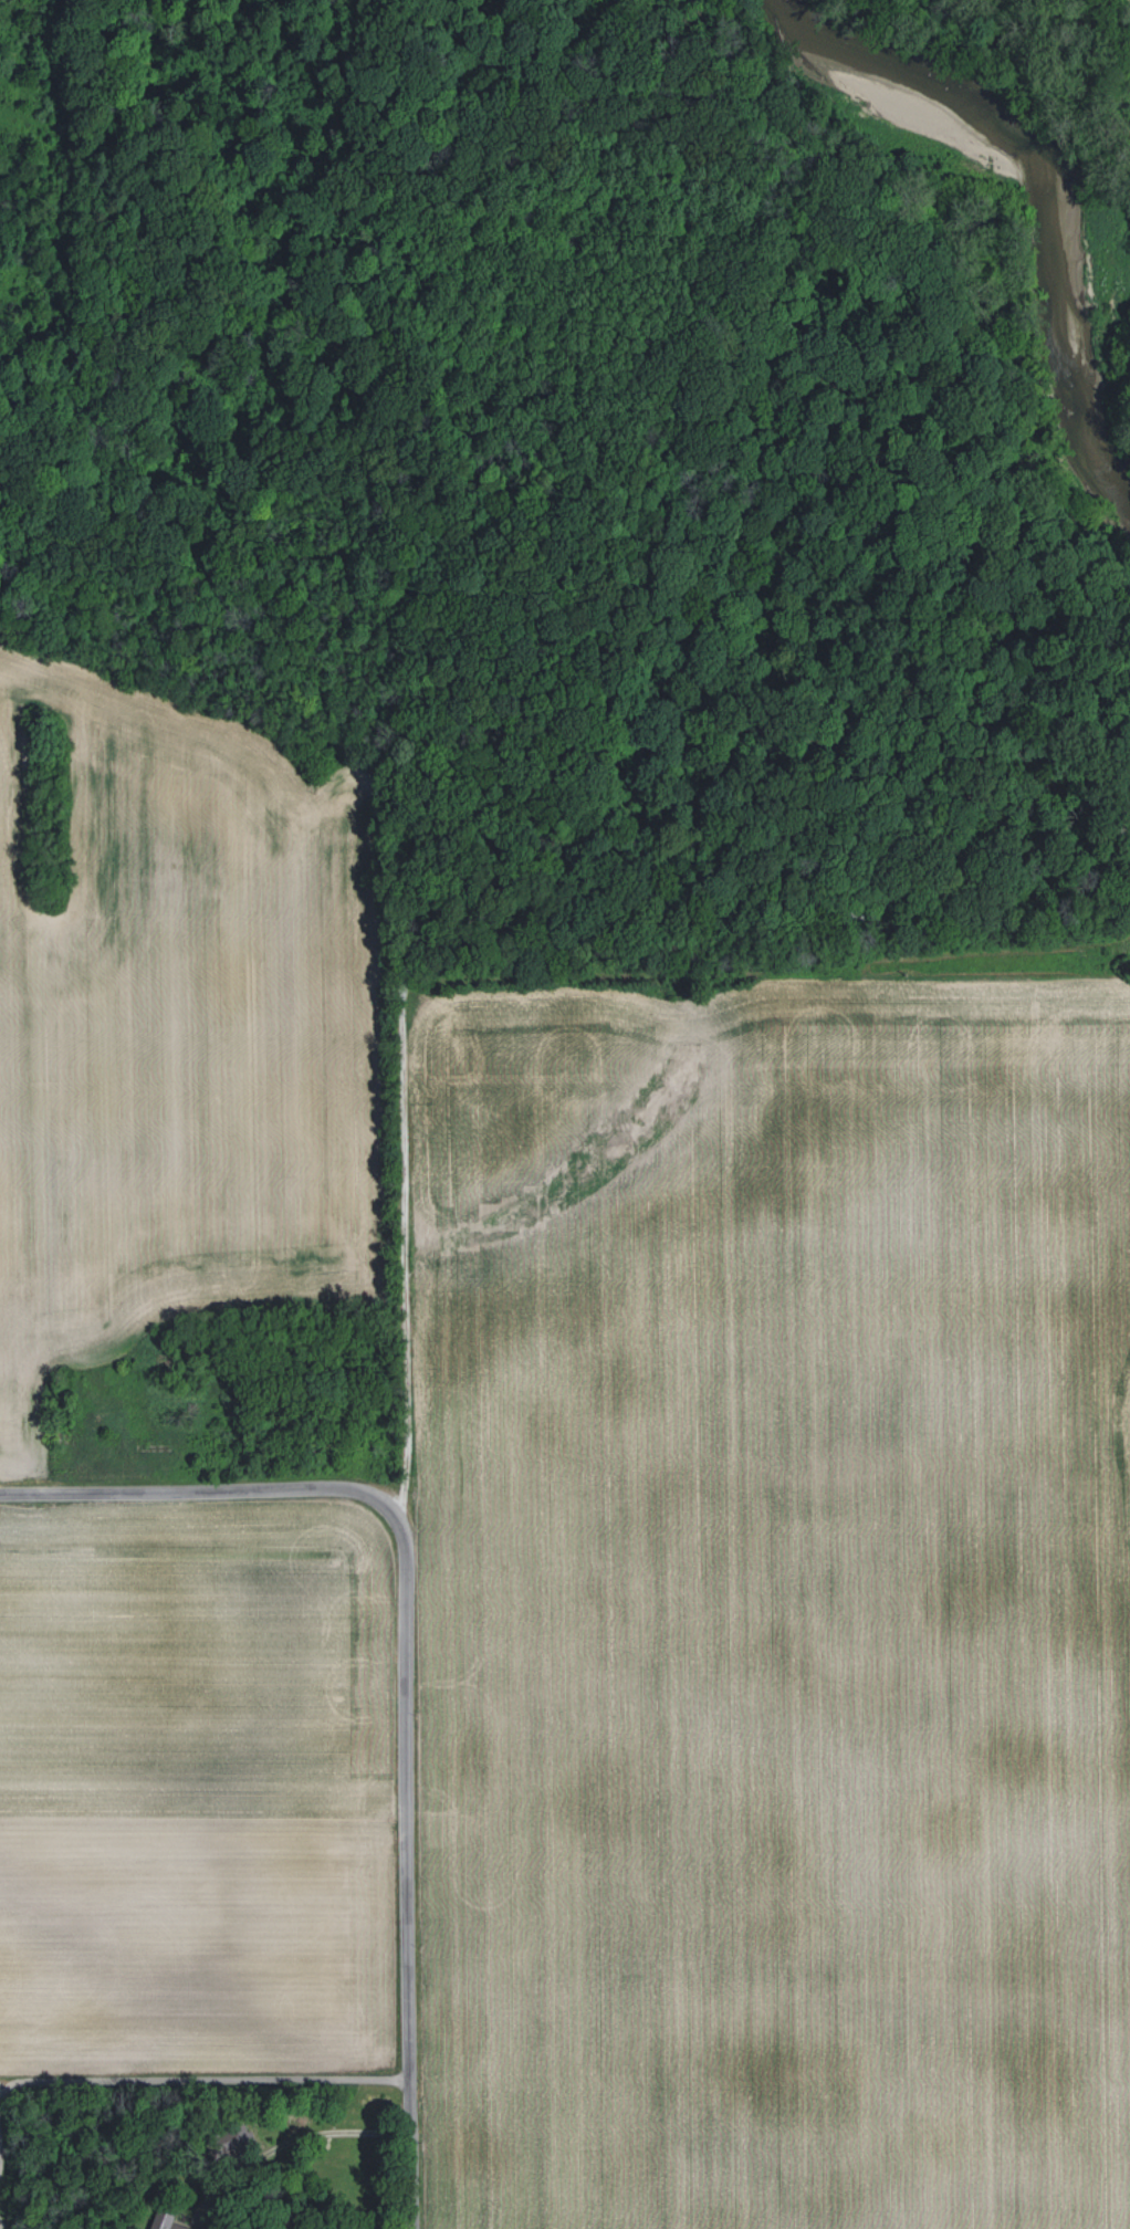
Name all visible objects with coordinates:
road: (192, 1492)
road: (407, 1863)
road: (202, 2087)
building: (236, 2139)
road: (289, 2139)
road: (0, 2166)

